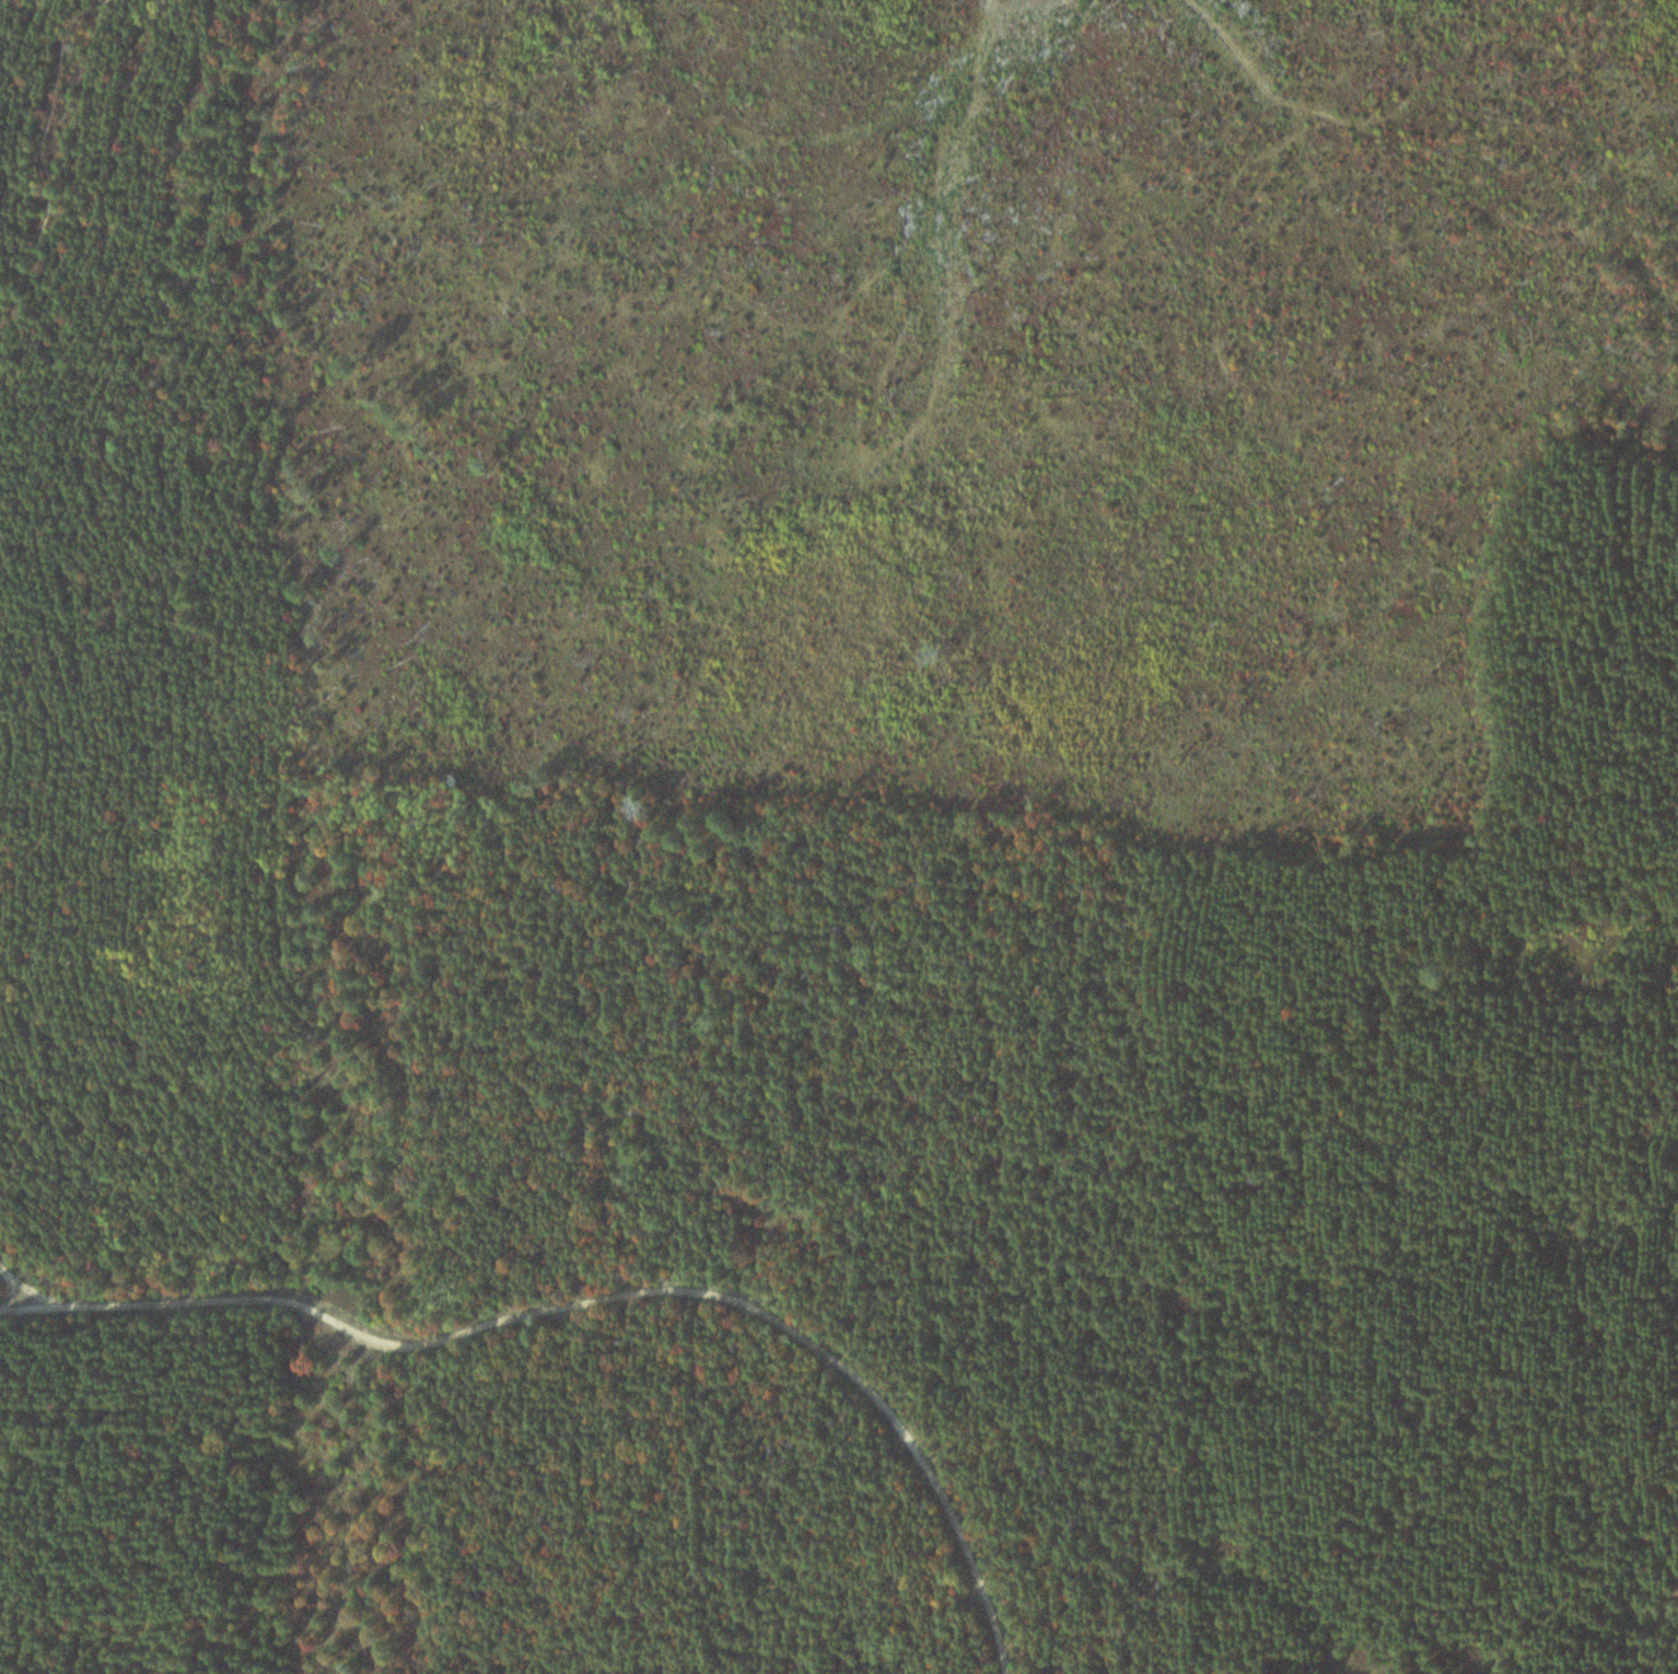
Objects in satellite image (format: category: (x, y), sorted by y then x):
road: (46, 152)
road: (9, 1284)
road: (9, 1298)
road: (617, 1300)

